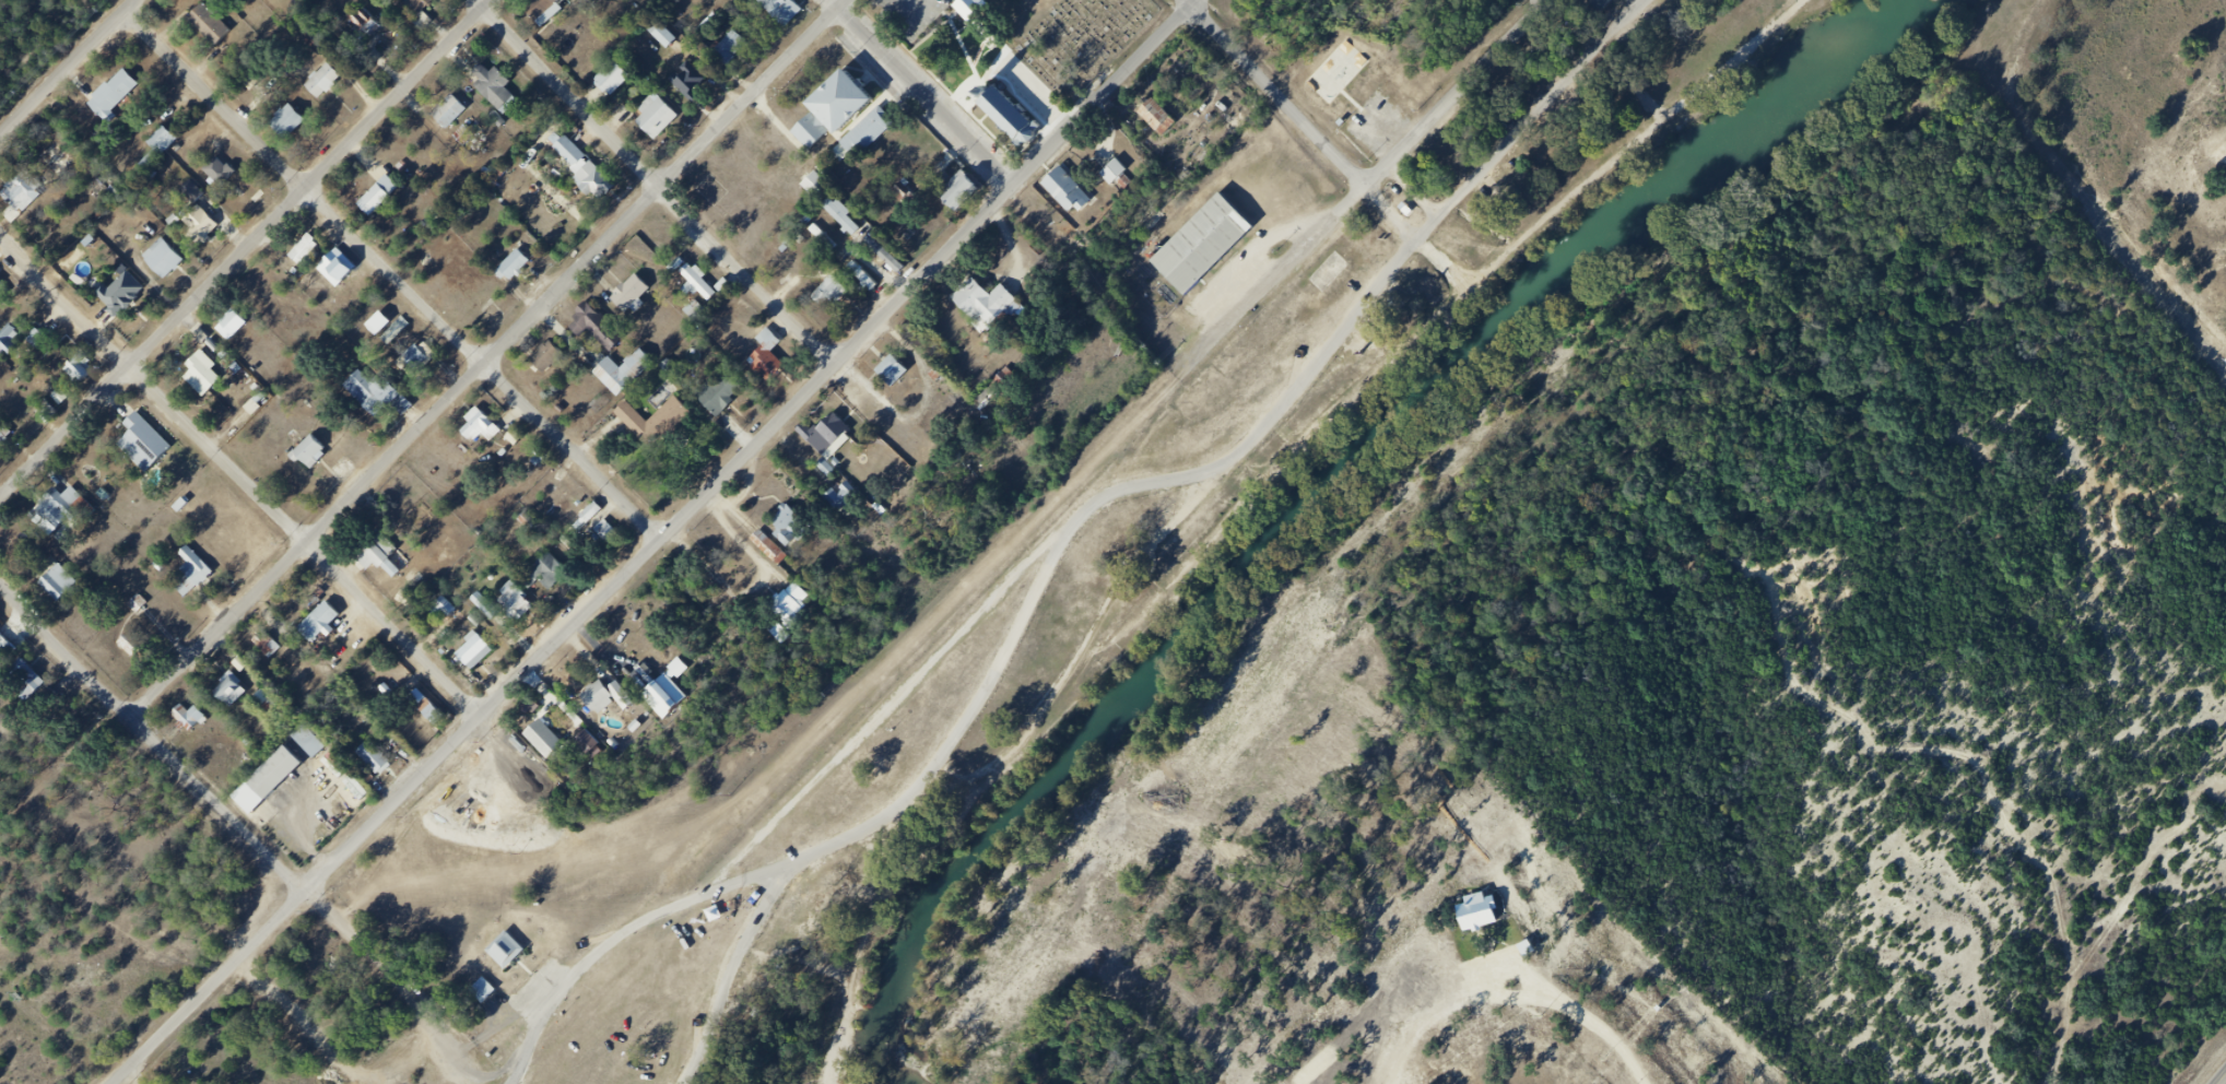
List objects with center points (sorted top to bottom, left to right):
building: (1599, 4)
building: (429, 7)
building: (970, 8)
building: (549, 12)
building: (786, 12)
parking lot: (909, 14)
building: (219, 28)
building: (373, 28)
building: (661, 34)
building: (738, 51)
road: (1610, 60)
road: (71, 72)
park: (1344, 74)
building: (322, 80)
building: (620, 82)
building: (332, 85)
building: (696, 86)
road: (929, 89)
building: (504, 90)
road: (1280, 95)
road: (1458, 96)
building: (121, 97)
building: (448, 111)
building: (1153, 113)
building: (458, 115)
building: (1008, 116)
building: (663, 119)
building: (285, 121)
park: (1581, 123)
building: (849, 125)
building: (296, 126)
building: (1165, 127)
building: (162, 140)
road: (1657, 145)
building: (163, 154)
building: (591, 172)
building: (224, 174)
road: (668, 177)
road: (661, 182)
building: (813, 184)
building: (1121, 184)
road: (1589, 188)
road: (307, 189)
building: (959, 191)
building: (32, 193)
building: (386, 201)
building: (1076, 202)
road: (2123, 223)
building: (209, 226)
road: (1440, 227)
building: (664, 235)
building: (820, 238)
road: (246, 245)
building: (304, 248)
building: (1211, 251)
building: (311, 252)
building: (172, 261)
building: (513, 264)
building: (523, 266)
building: (343, 270)
building: (860, 275)
road: (1282, 278)
building: (4, 286)
building: (704, 288)
building: (129, 294)
building: (838, 297)
building: (637, 298)
building: (694, 310)
building: (990, 311)
building: (231, 325)
building: (602, 328)
building: (239, 329)
building: (396, 329)
building: (15, 343)
building: (553, 357)
building: (775, 361)
building: (421, 363)
building: (78, 369)
building: (89, 370)
building: (891, 372)
building: (211, 376)
building: (633, 376)
building: (903, 376)
building: (996, 388)
building: (385, 396)
building: (727, 397)
building: (48, 410)
building: (651, 426)
building: (487, 429)
building: (7, 437)
building: (835, 439)
building: (152, 445)
road: (576, 450)
building: (318, 452)
road: (239, 474)
river: (1339, 492)
building: (851, 499)
building: (70, 514)
building: (609, 529)
building: (797, 534)
road: (661, 541)
road: (313, 544)
building: (386, 556)
building: (200, 575)
building: (555, 576)
building: (413, 577)
building: (67, 588)
building: (523, 604)
building: (484, 605)
building: (798, 609)
building: (318, 621)
building: (329, 626)
building: (779, 632)
building: (130, 643)
building: (8, 650)
building: (142, 651)
building: (274, 651)
building: (482, 653)
building: (33, 682)
building: (239, 694)
building: (676, 696)
building: (612, 703)
building: (432, 712)
building: (196, 719)
road: (957, 737)
building: (308, 743)
building: (552, 743)
building: (372, 756)
building: (382, 757)
building: (278, 782)
road: (252, 836)
road: (610, 943)
building: (513, 950)

